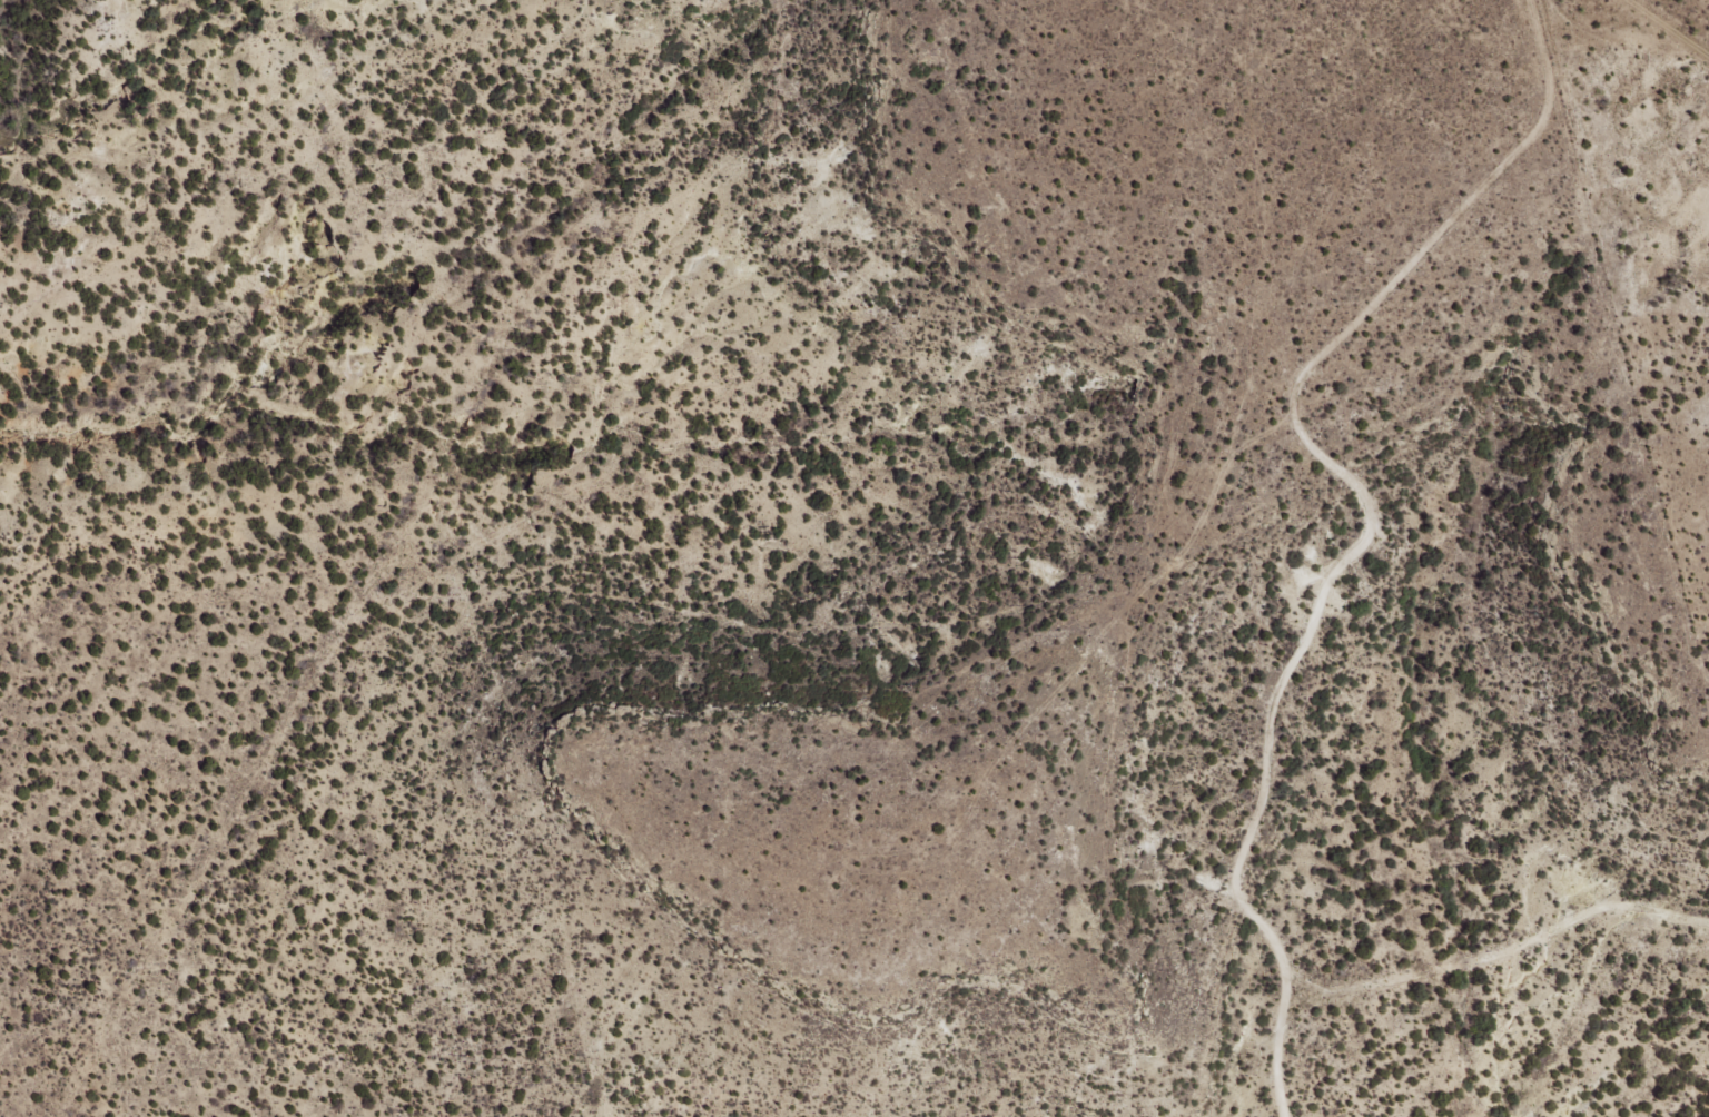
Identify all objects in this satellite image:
road: (1654, 39)

